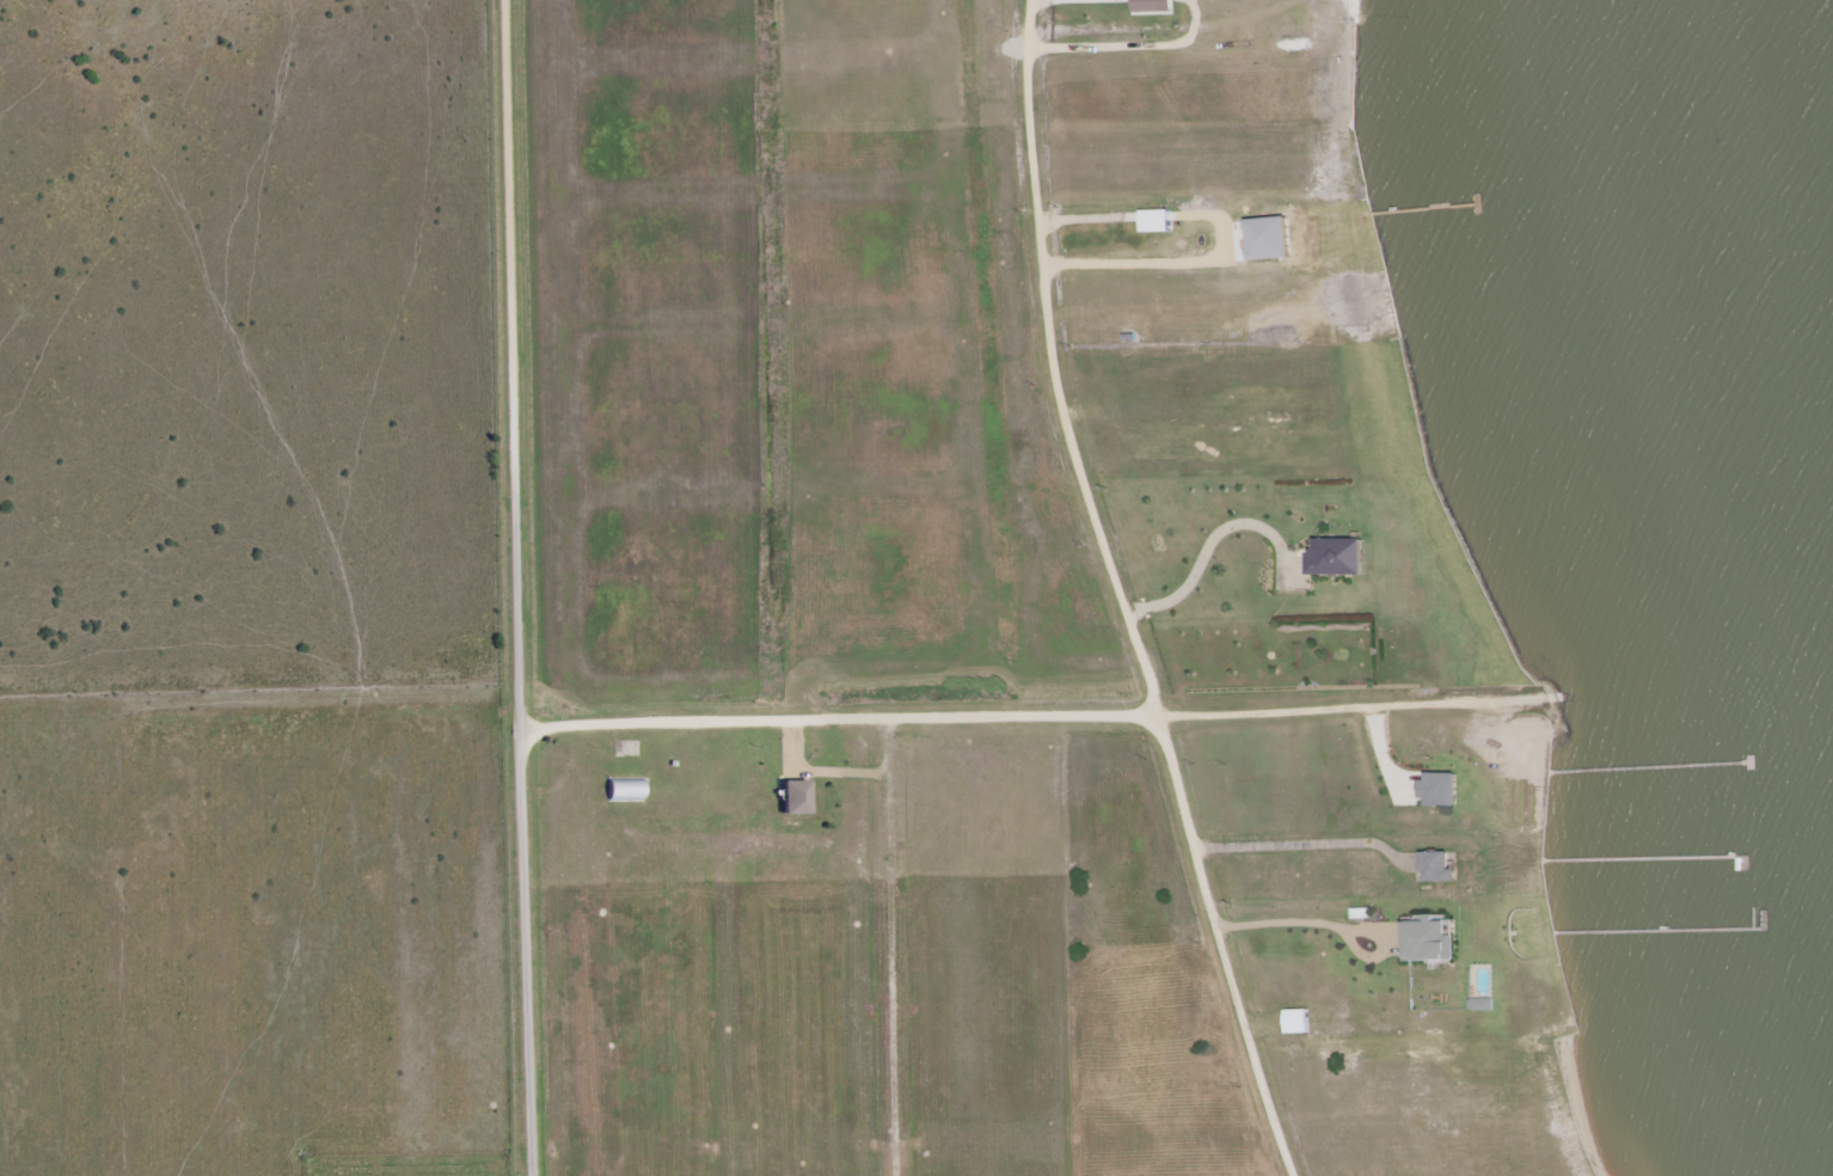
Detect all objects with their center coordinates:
building: (1153, 6)
building: (1158, 221)
building: (1273, 239)
building: (1339, 558)
road: (520, 588)
building: (1442, 789)
building: (625, 790)
building: (797, 796)
building: (1440, 866)
building: (1298, 1022)

